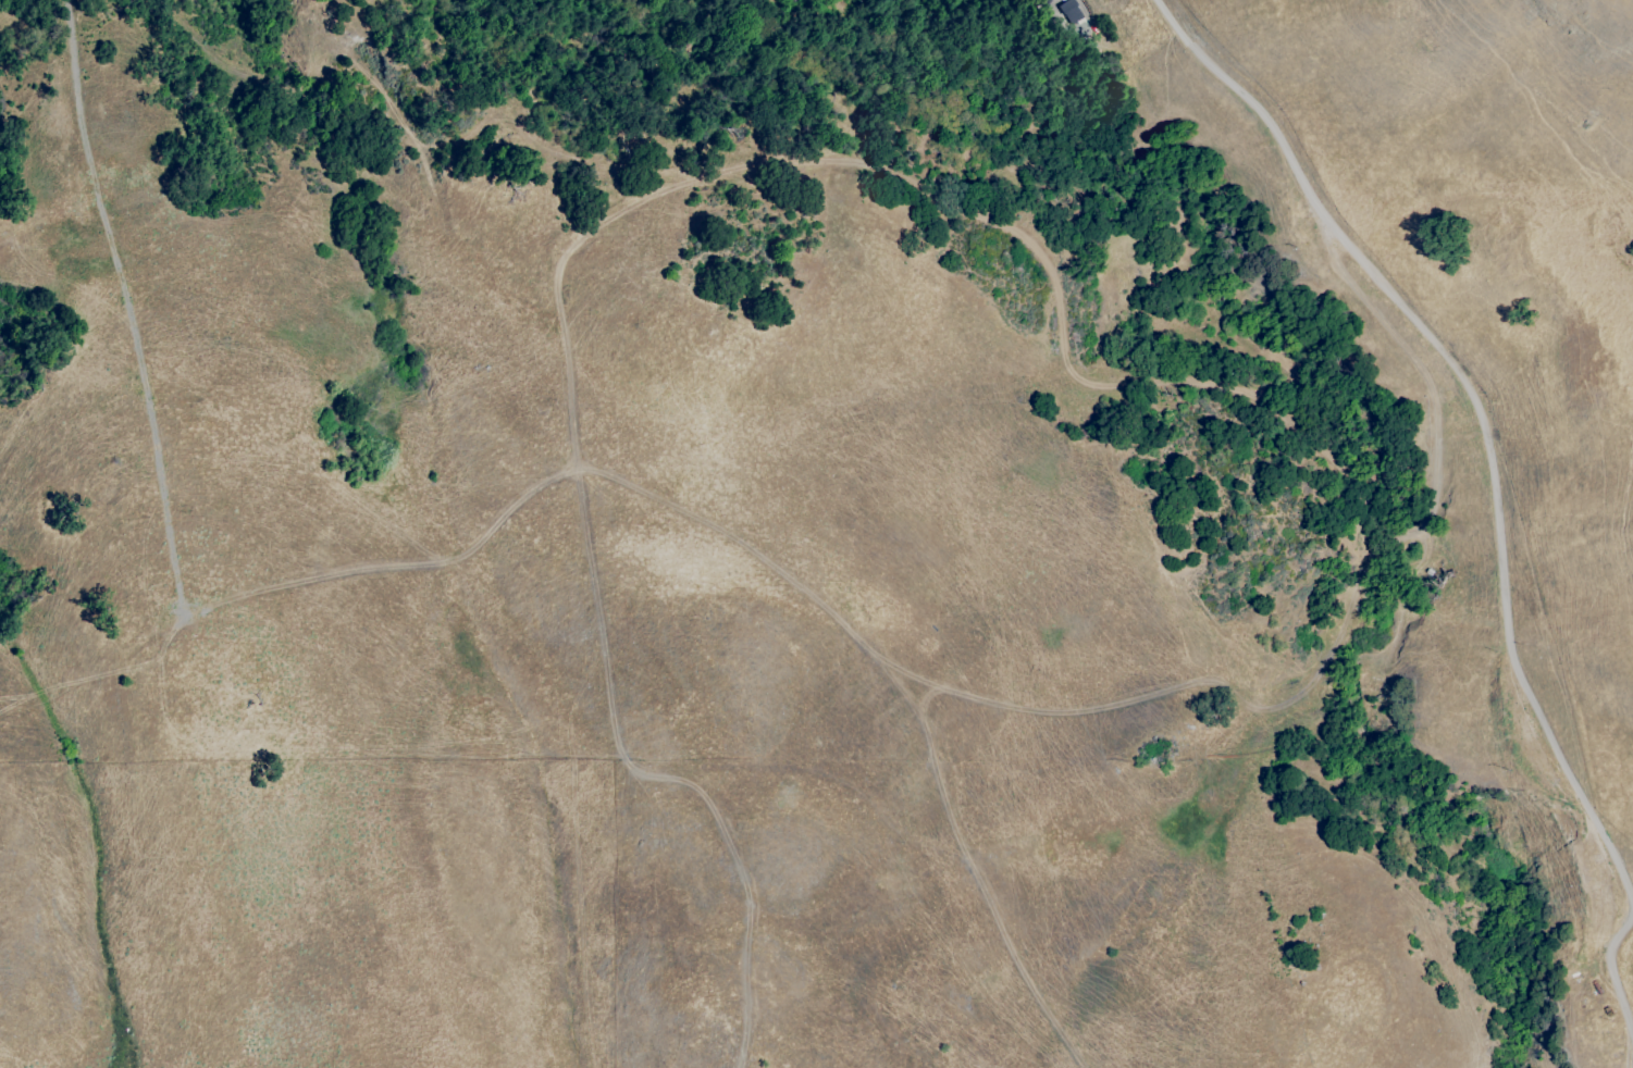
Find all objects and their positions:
building: (1075, 16)
road: (1494, 483)

